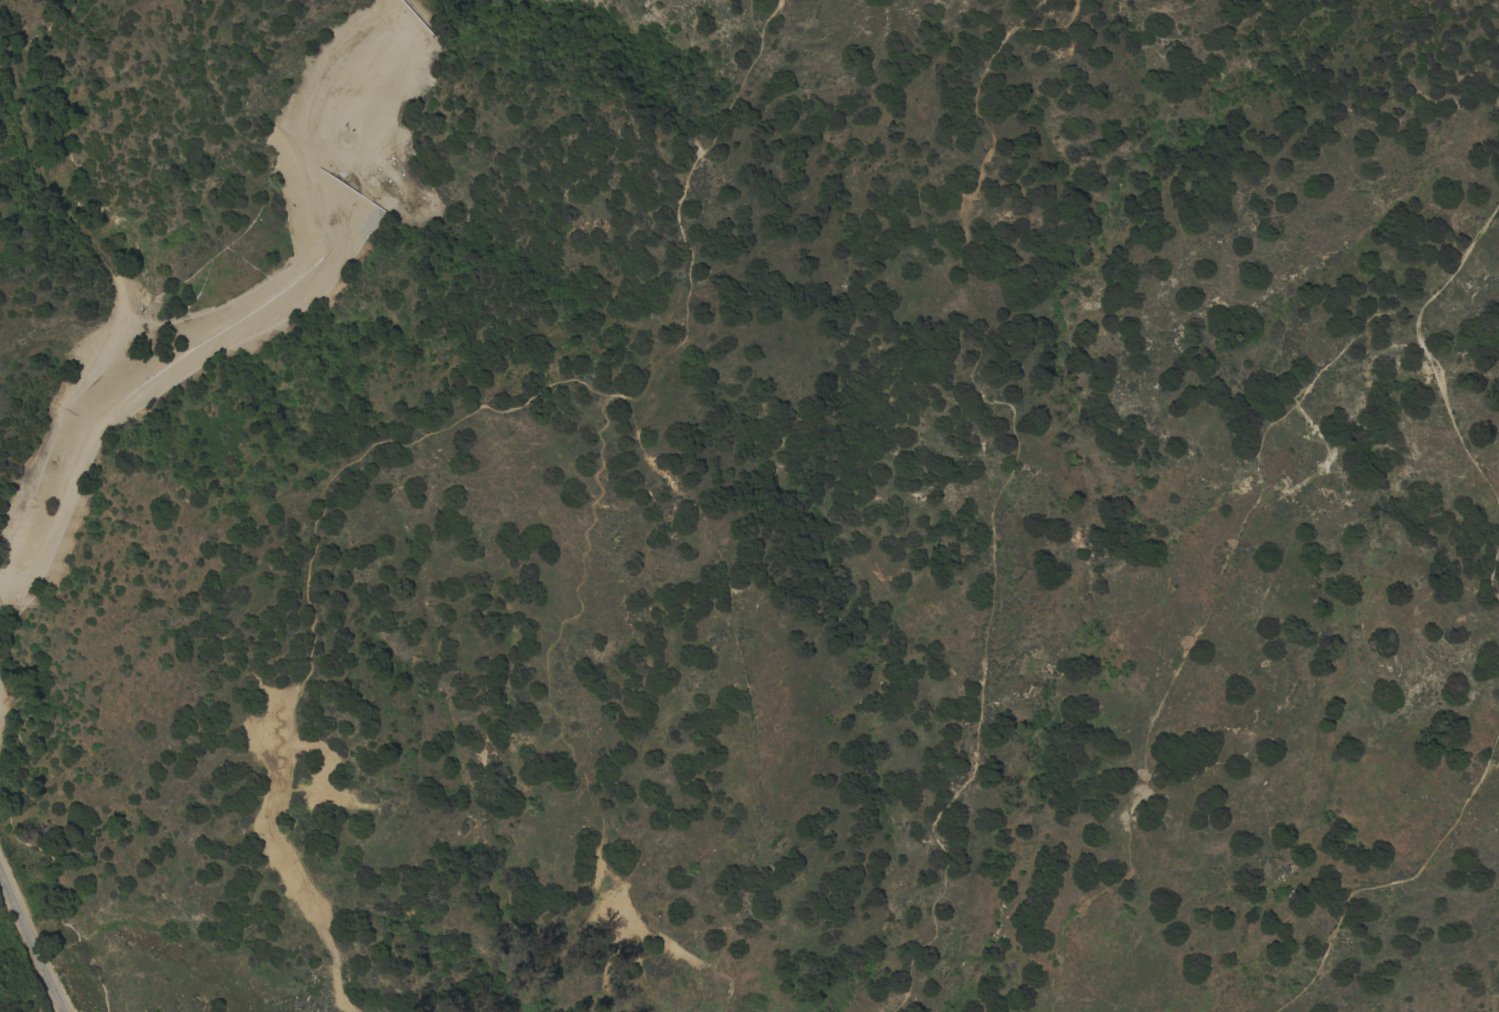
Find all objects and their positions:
road: (263, 313)
road: (1436, 395)
road: (1004, 471)
road: (674, 490)
road: (1386, 877)
road: (30, 942)

